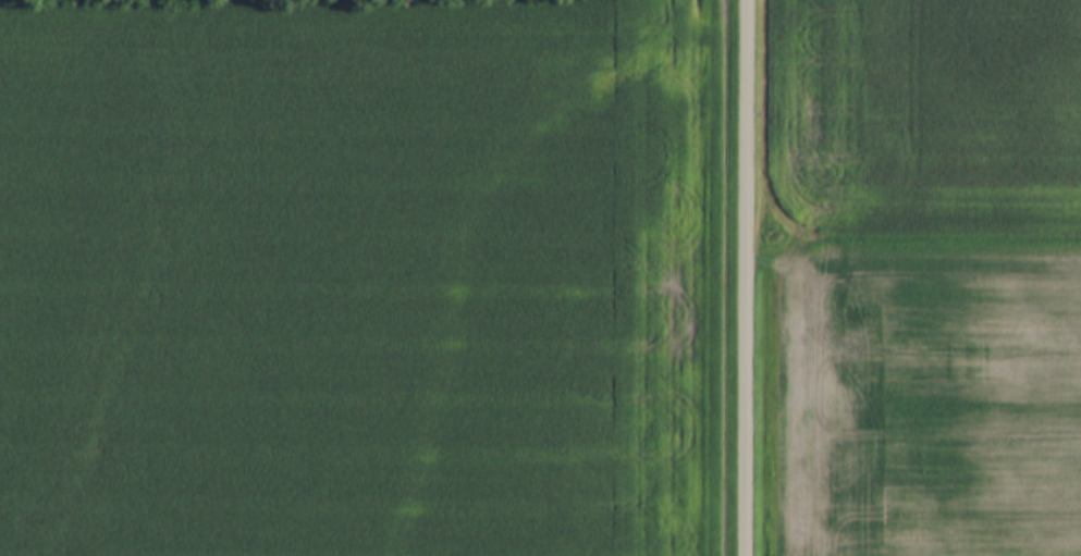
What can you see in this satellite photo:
road: (744, 277)

